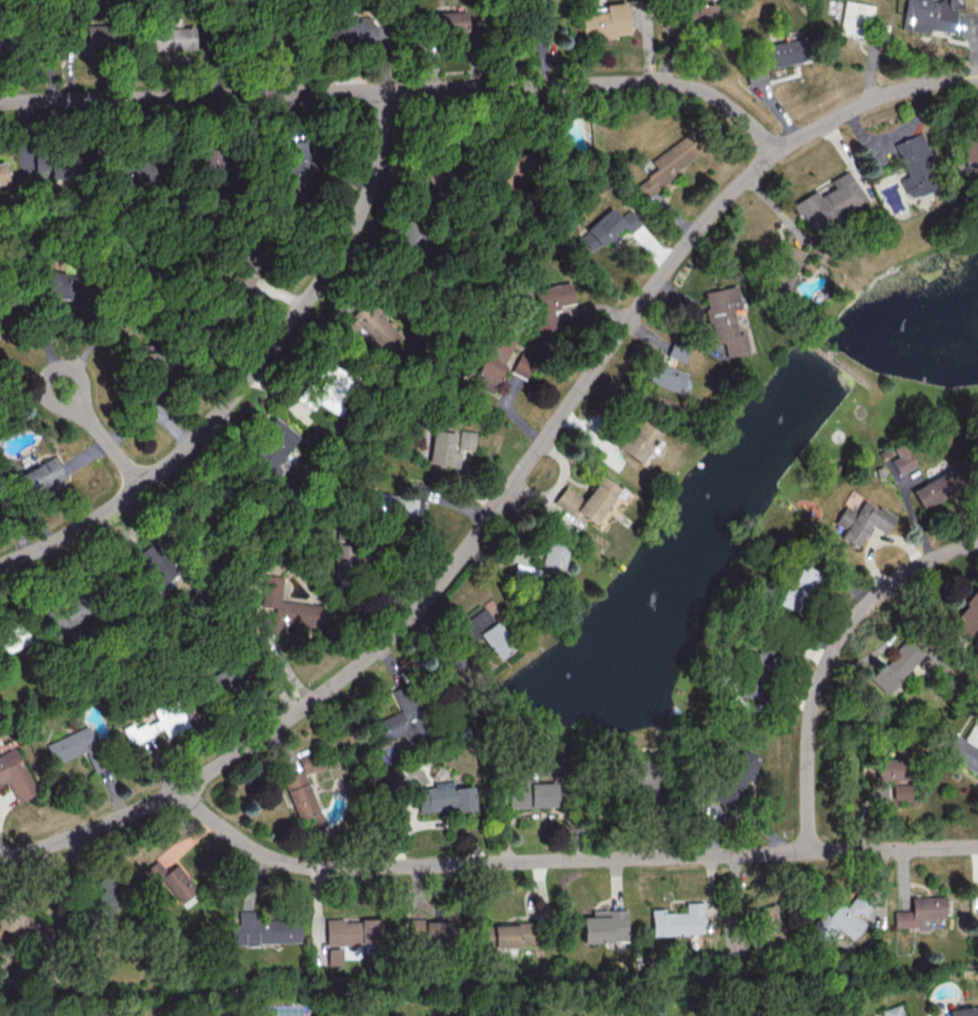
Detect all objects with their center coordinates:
building: (698, 13)
building: (929, 15)
building: (854, 17)
building: (453, 21)
building: (604, 22)
building: (349, 32)
building: (169, 38)
building: (89, 40)
building: (785, 52)
building: (757, 75)
road: (399, 90)
road: (894, 136)
building: (970, 145)
building: (298, 157)
building: (55, 164)
building: (669, 164)
building: (915, 165)
building: (130, 172)
building: (2, 173)
building: (828, 202)
building: (608, 227)
building: (782, 269)
building: (245, 270)
building: (61, 284)
building: (551, 305)
building: (723, 319)
building: (370, 326)
road: (822, 343)
road: (94, 344)
building: (676, 350)
road: (833, 351)
building: (494, 361)
building: (523, 365)
road: (856, 368)
road: (248, 372)
building: (668, 377)
building: (327, 389)
road: (103, 437)
building: (466, 440)
building: (638, 440)
building: (272, 445)
building: (444, 449)
building: (901, 459)
building: (38, 476)
road: (511, 486)
building: (936, 489)
building: (587, 500)
building: (399, 502)
building: (861, 522)
building: (345, 554)
building: (546, 562)
building: (154, 563)
building: (797, 587)
building: (285, 608)
building: (72, 612)
building: (968, 619)
building: (485, 632)
building: (12, 637)
road: (827, 659)
building: (897, 665)
building: (754, 674)
building: (225, 676)
building: (401, 717)
building: (158, 722)
building: (76, 747)
building: (963, 753)
building: (310, 763)
building: (891, 768)
building: (638, 773)
building: (14, 774)
building: (733, 778)
building: (901, 792)
building: (298, 794)
building: (533, 794)
building: (444, 798)
road: (564, 860)
building: (171, 879)
building: (101, 905)
building: (977, 909)
building: (919, 911)
building: (840, 919)
building: (677, 921)
building: (770, 921)
building: (22, 925)
building: (603, 926)
building: (264, 929)
building: (353, 931)
building: (508, 934)
building: (334, 956)
building: (964, 1011)
building: (895, 1012)
building: (64, 1014)

